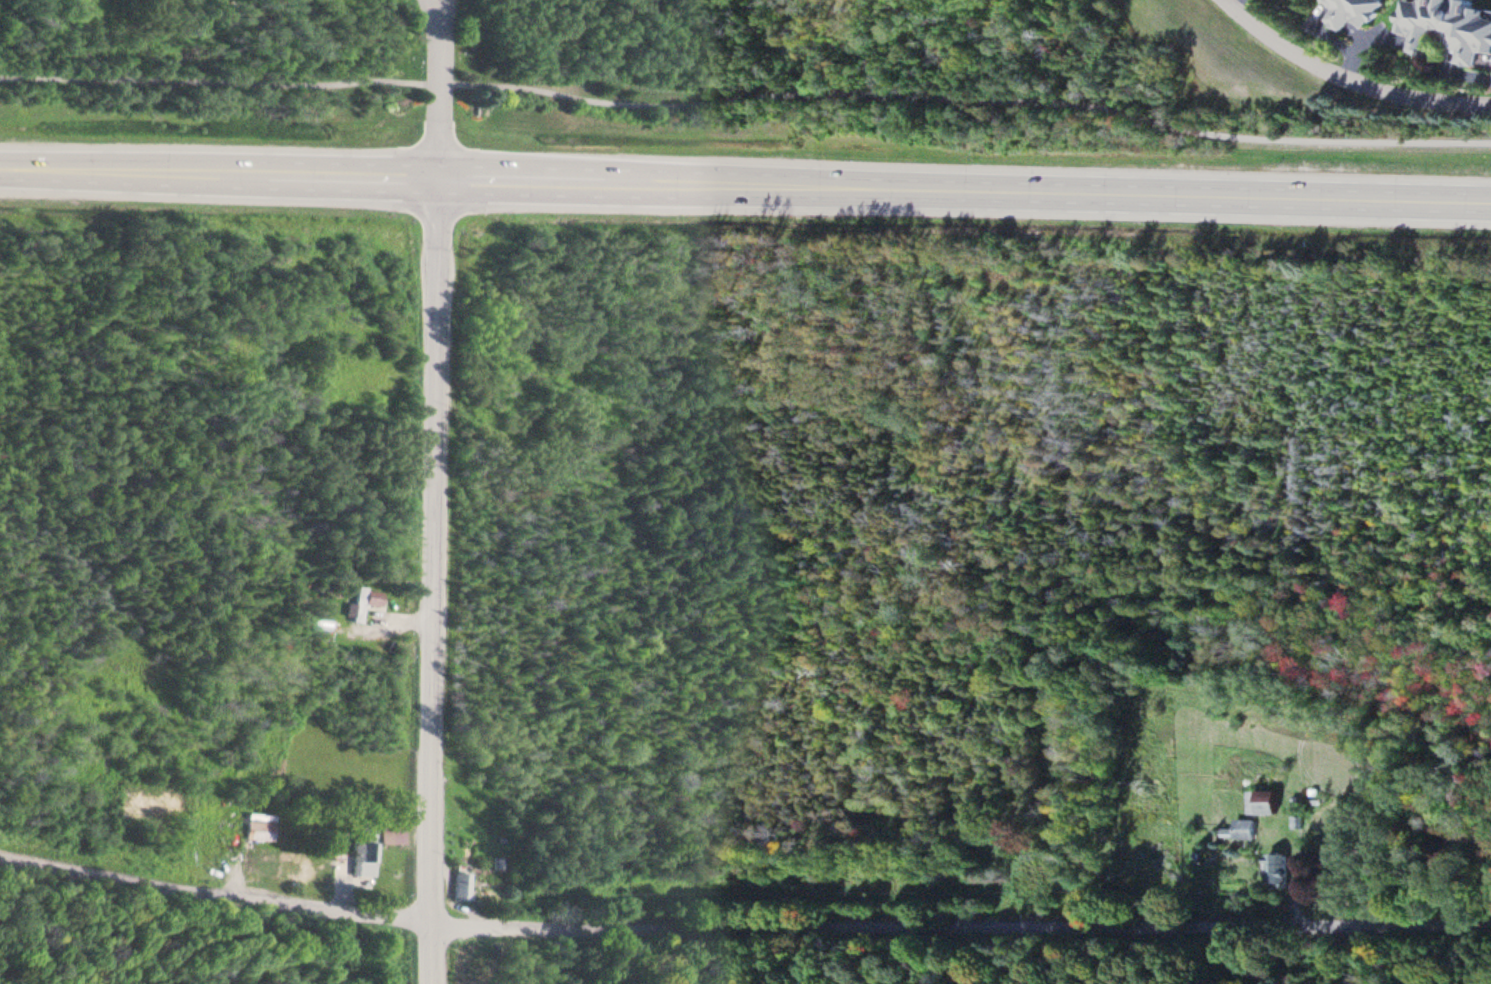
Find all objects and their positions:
building: (1304, 1)
building: (1353, 13)
road: (430, 17)
road: (440, 17)
building: (1448, 27)
road: (1346, 79)
road: (746, 97)
road: (437, 106)
road: (745, 186)
road: (435, 581)
building: (365, 602)
building: (319, 625)
building: (1263, 803)
building: (369, 809)
building: (261, 827)
building: (1245, 830)
building: (392, 836)
building: (365, 856)
building: (1278, 871)
building: (462, 886)
building: (489, 893)
road: (742, 933)
park: (171, 943)

